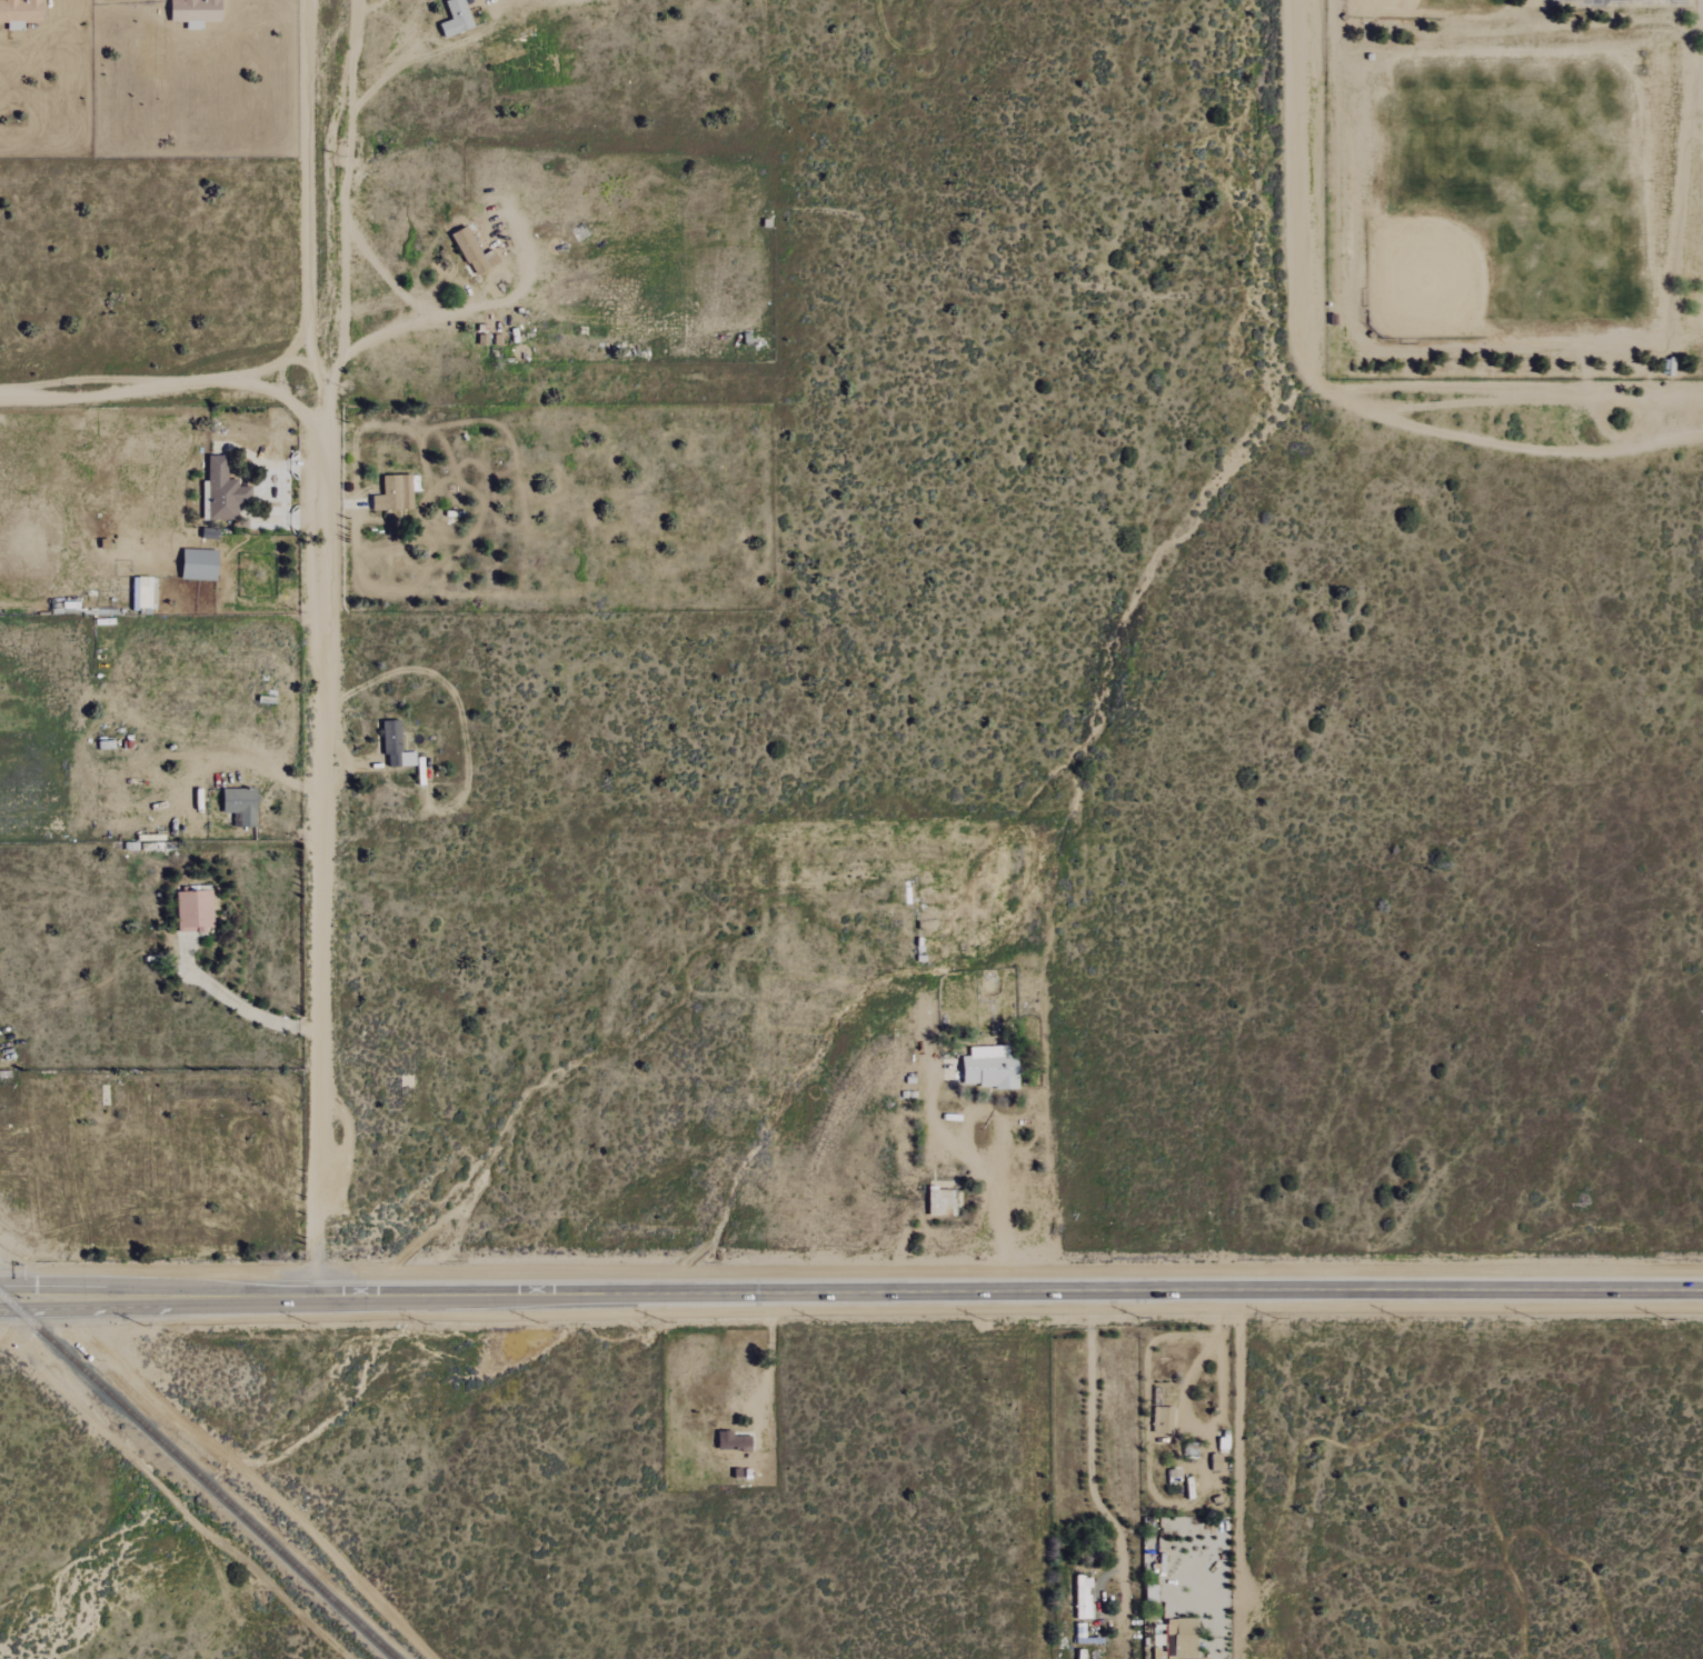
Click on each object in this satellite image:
building: (21, 12)
building: (197, 12)
building: (458, 18)
road: (336, 172)
building: (475, 252)
road: (434, 313)
road: (1315, 382)
road: (121, 394)
road: (282, 396)
building: (223, 491)
building: (396, 493)
building: (201, 564)
building: (143, 592)
road: (316, 621)
building: (396, 746)
road: (222, 759)
building: (242, 806)
building: (196, 911)
road: (240, 1005)
building: (992, 1068)
road: (993, 1196)
building: (943, 1202)
road: (315, 1269)
road: (27, 1286)
road: (68, 1291)
road: (892, 1293)
road: (68, 1302)
road: (36, 1308)
road: (9, 1309)
road: (769, 1361)
building: (730, 1440)
railway: (198, 1476)
road: (1241, 1476)
road: (1094, 1500)
building: (1084, 1598)
building: (1183, 1638)

